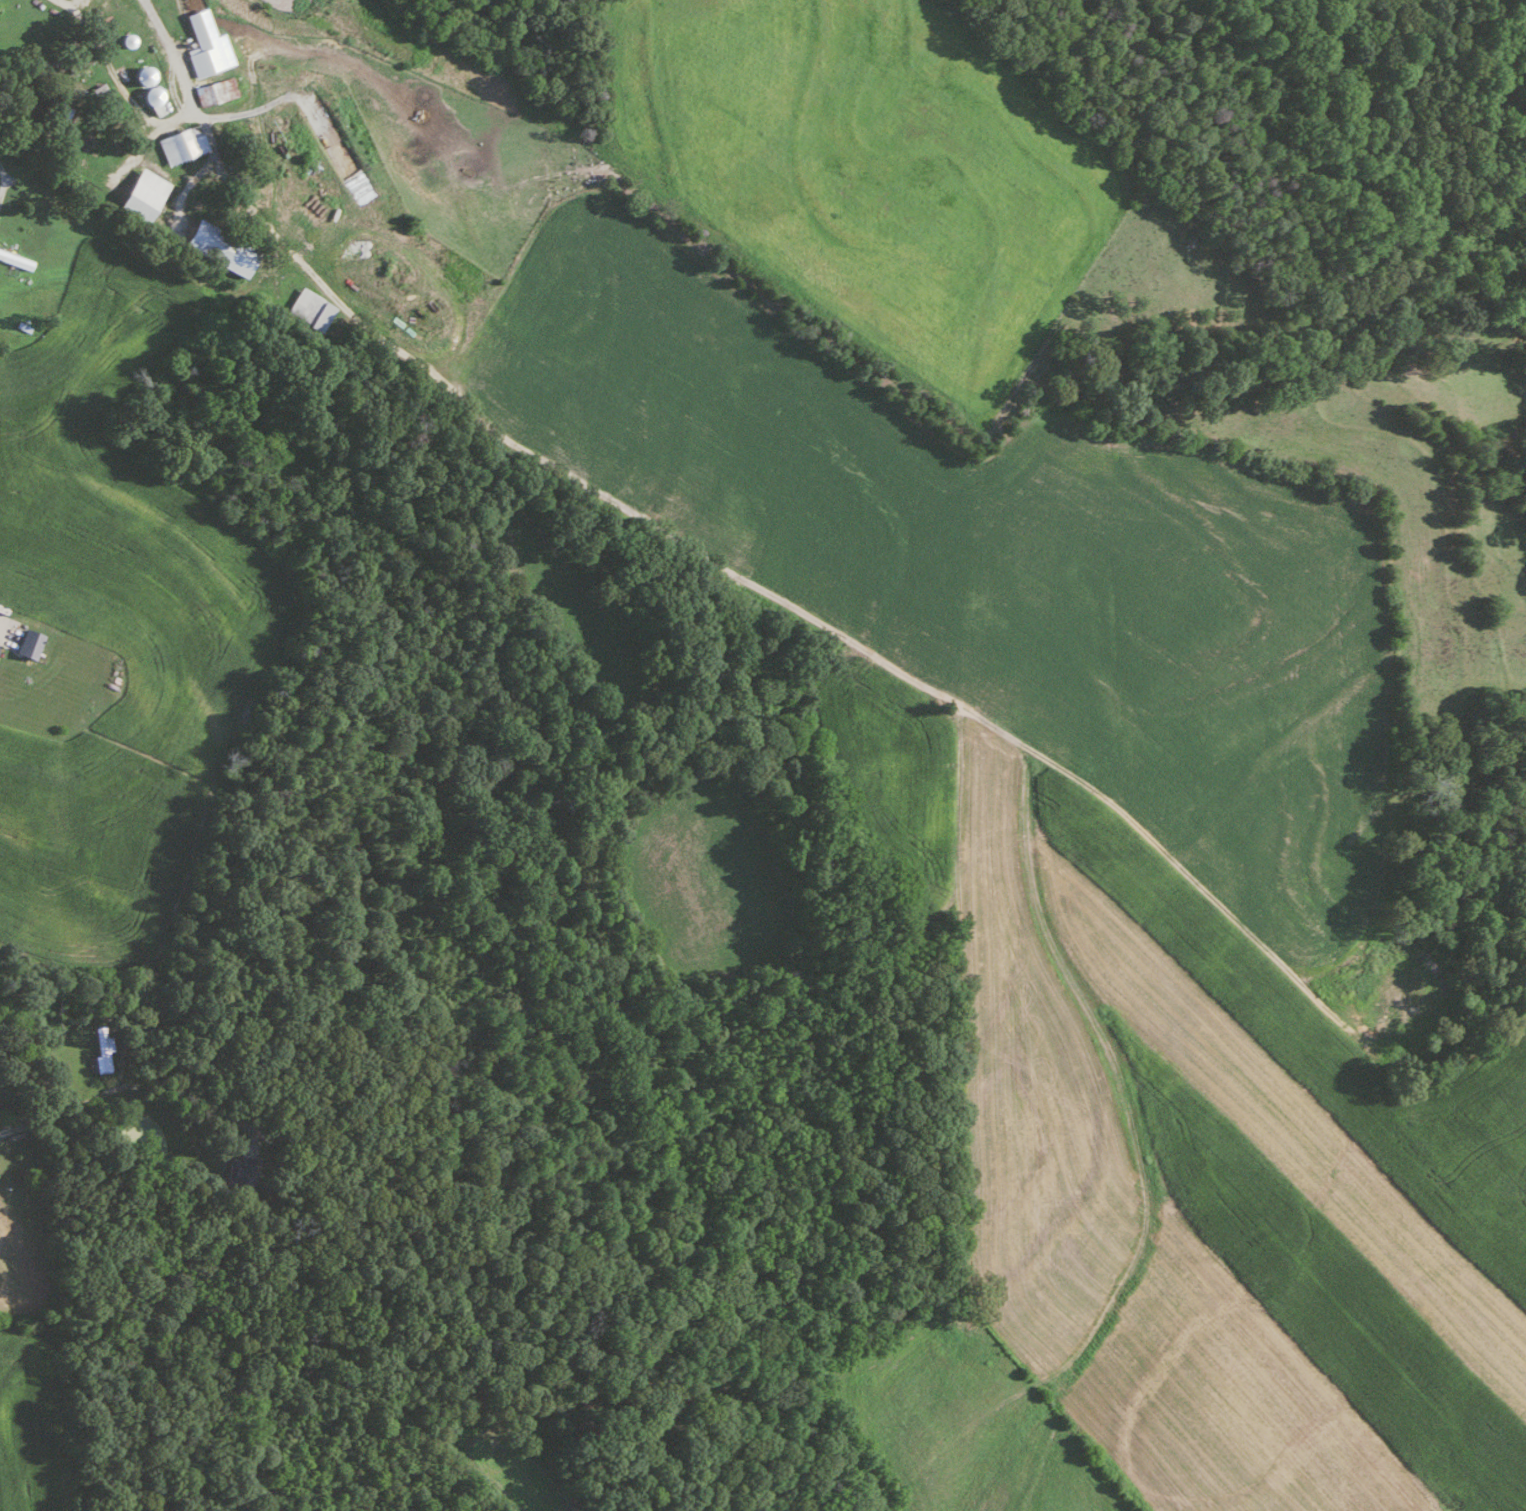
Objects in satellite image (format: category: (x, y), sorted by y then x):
building: (204, 44)
building: (214, 89)
road: (156, 119)
building: (179, 142)
road: (2, 179)
building: (138, 193)
building: (212, 246)
building: (14, 259)
building: (308, 307)
road: (744, 576)
building: (26, 643)
road: (131, 1084)
building: (242, 1172)

